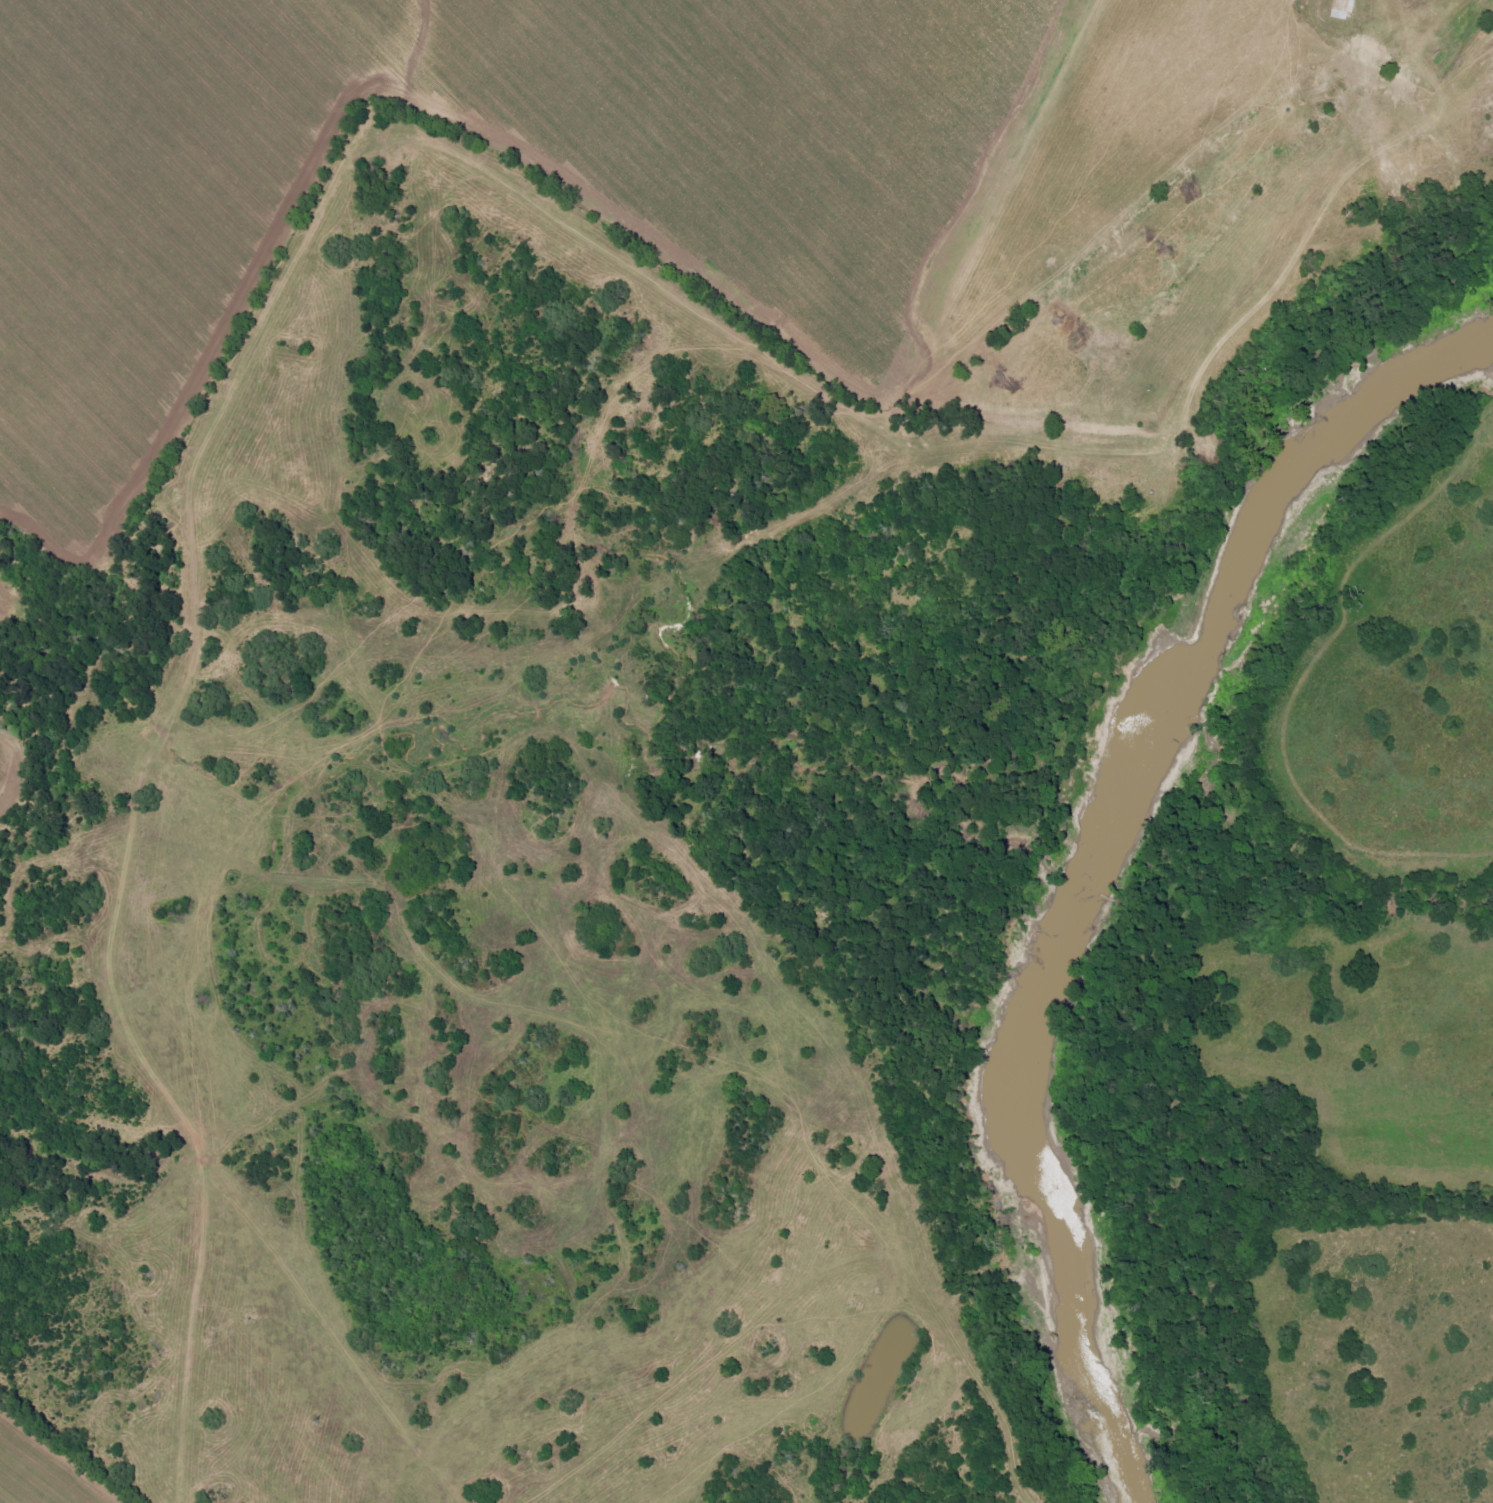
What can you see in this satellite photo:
river: (1110, 871)

